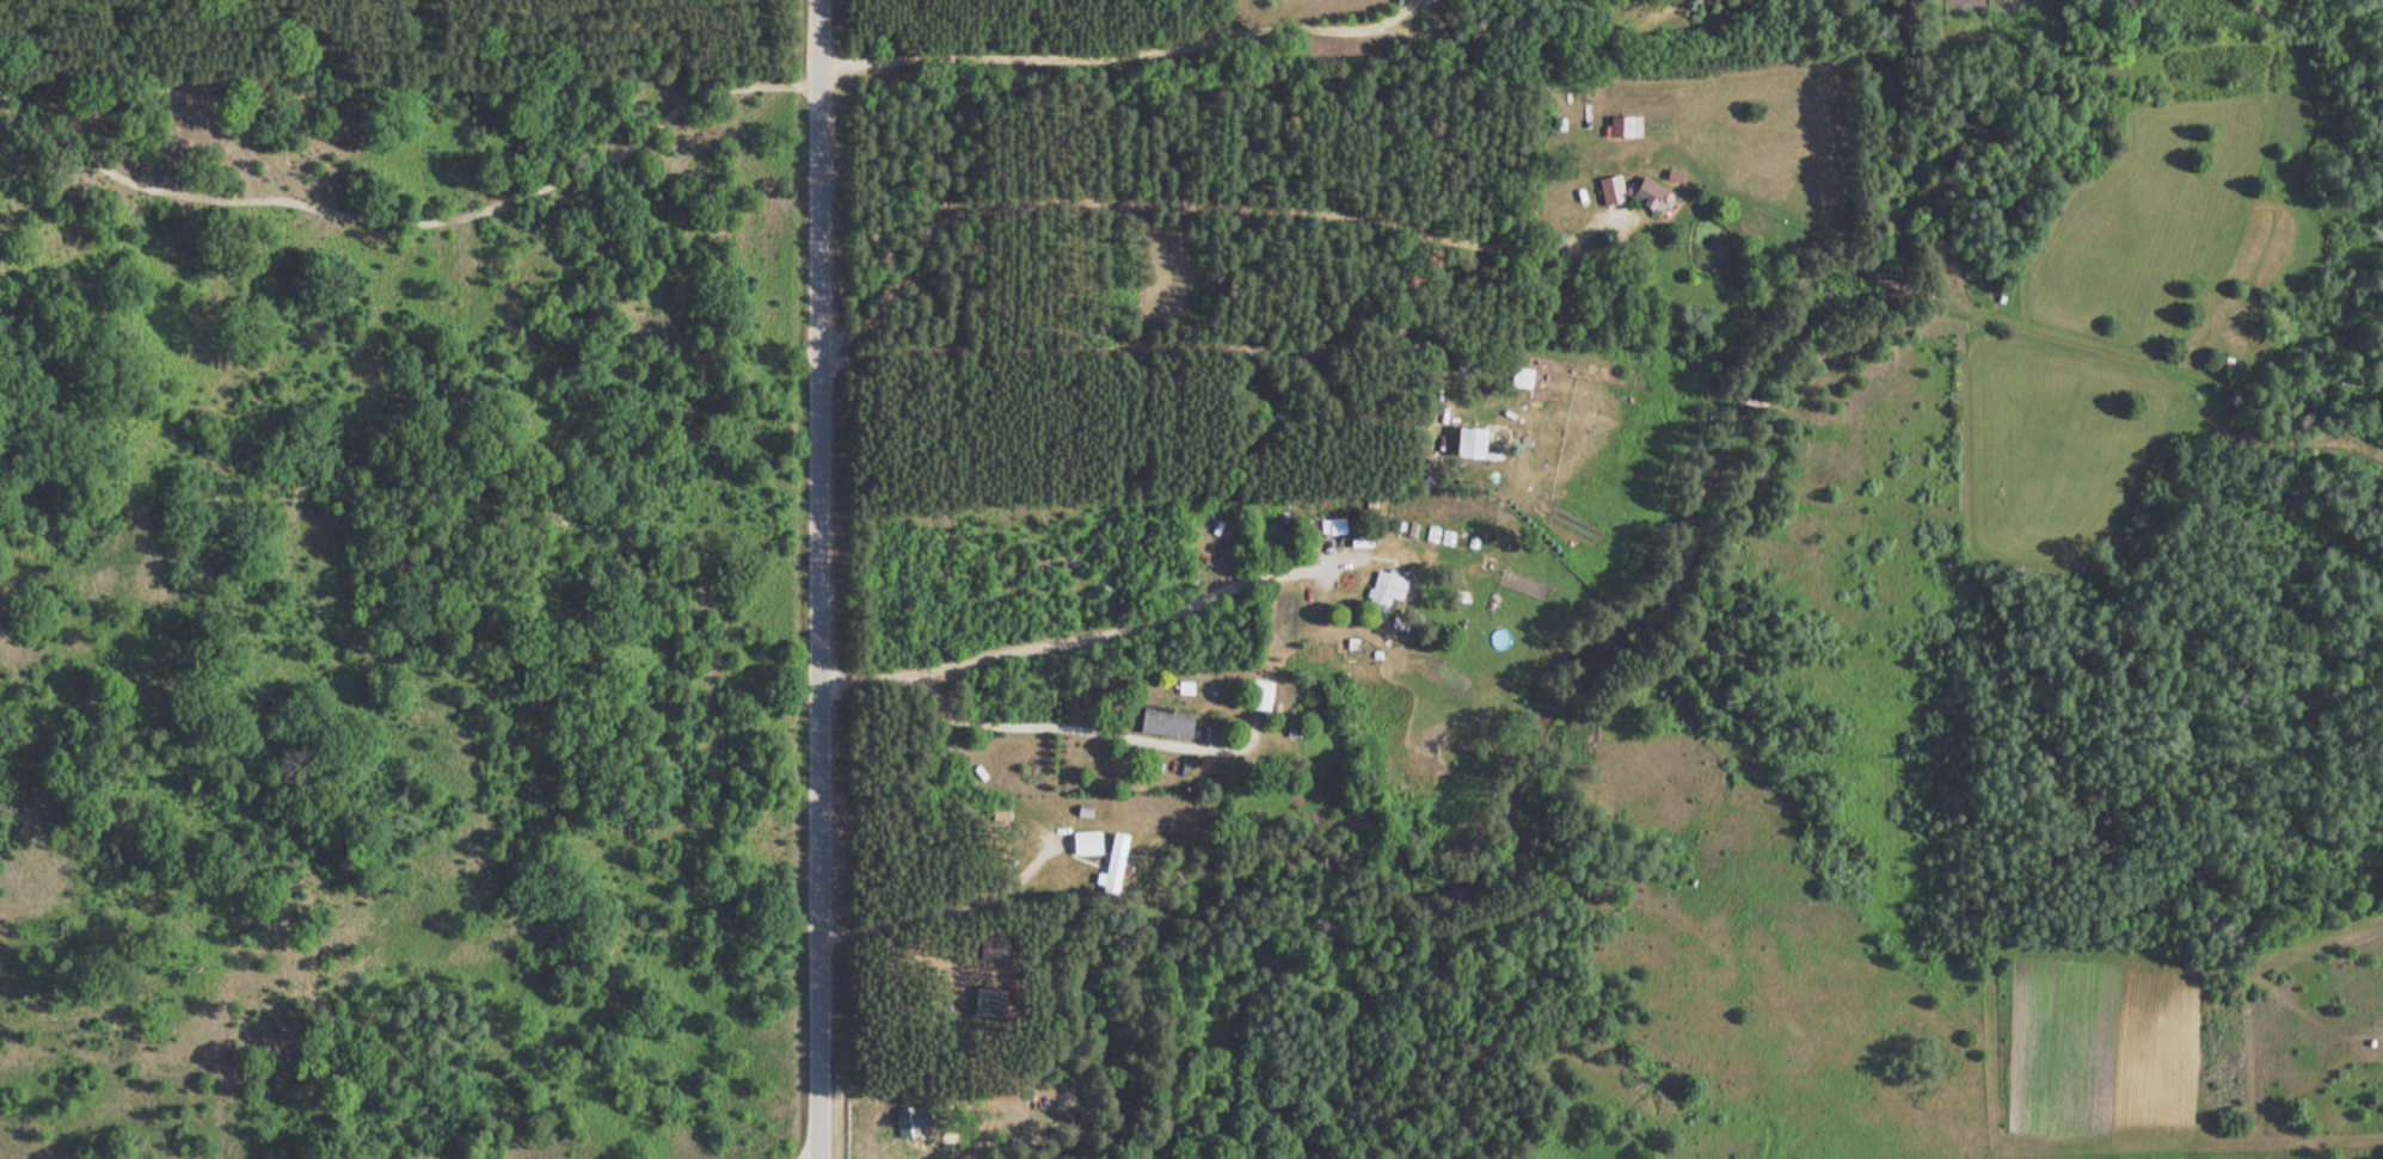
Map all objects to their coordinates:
road: (1223, 37)
building: (1621, 127)
building: (1626, 192)
road: (1223, 204)
building: (1518, 377)
building: (1467, 442)
building: (1329, 526)
road: (816, 579)
building: (1382, 592)
road: (1093, 633)
building: (1258, 696)
building: (1163, 723)
building: (1082, 844)

